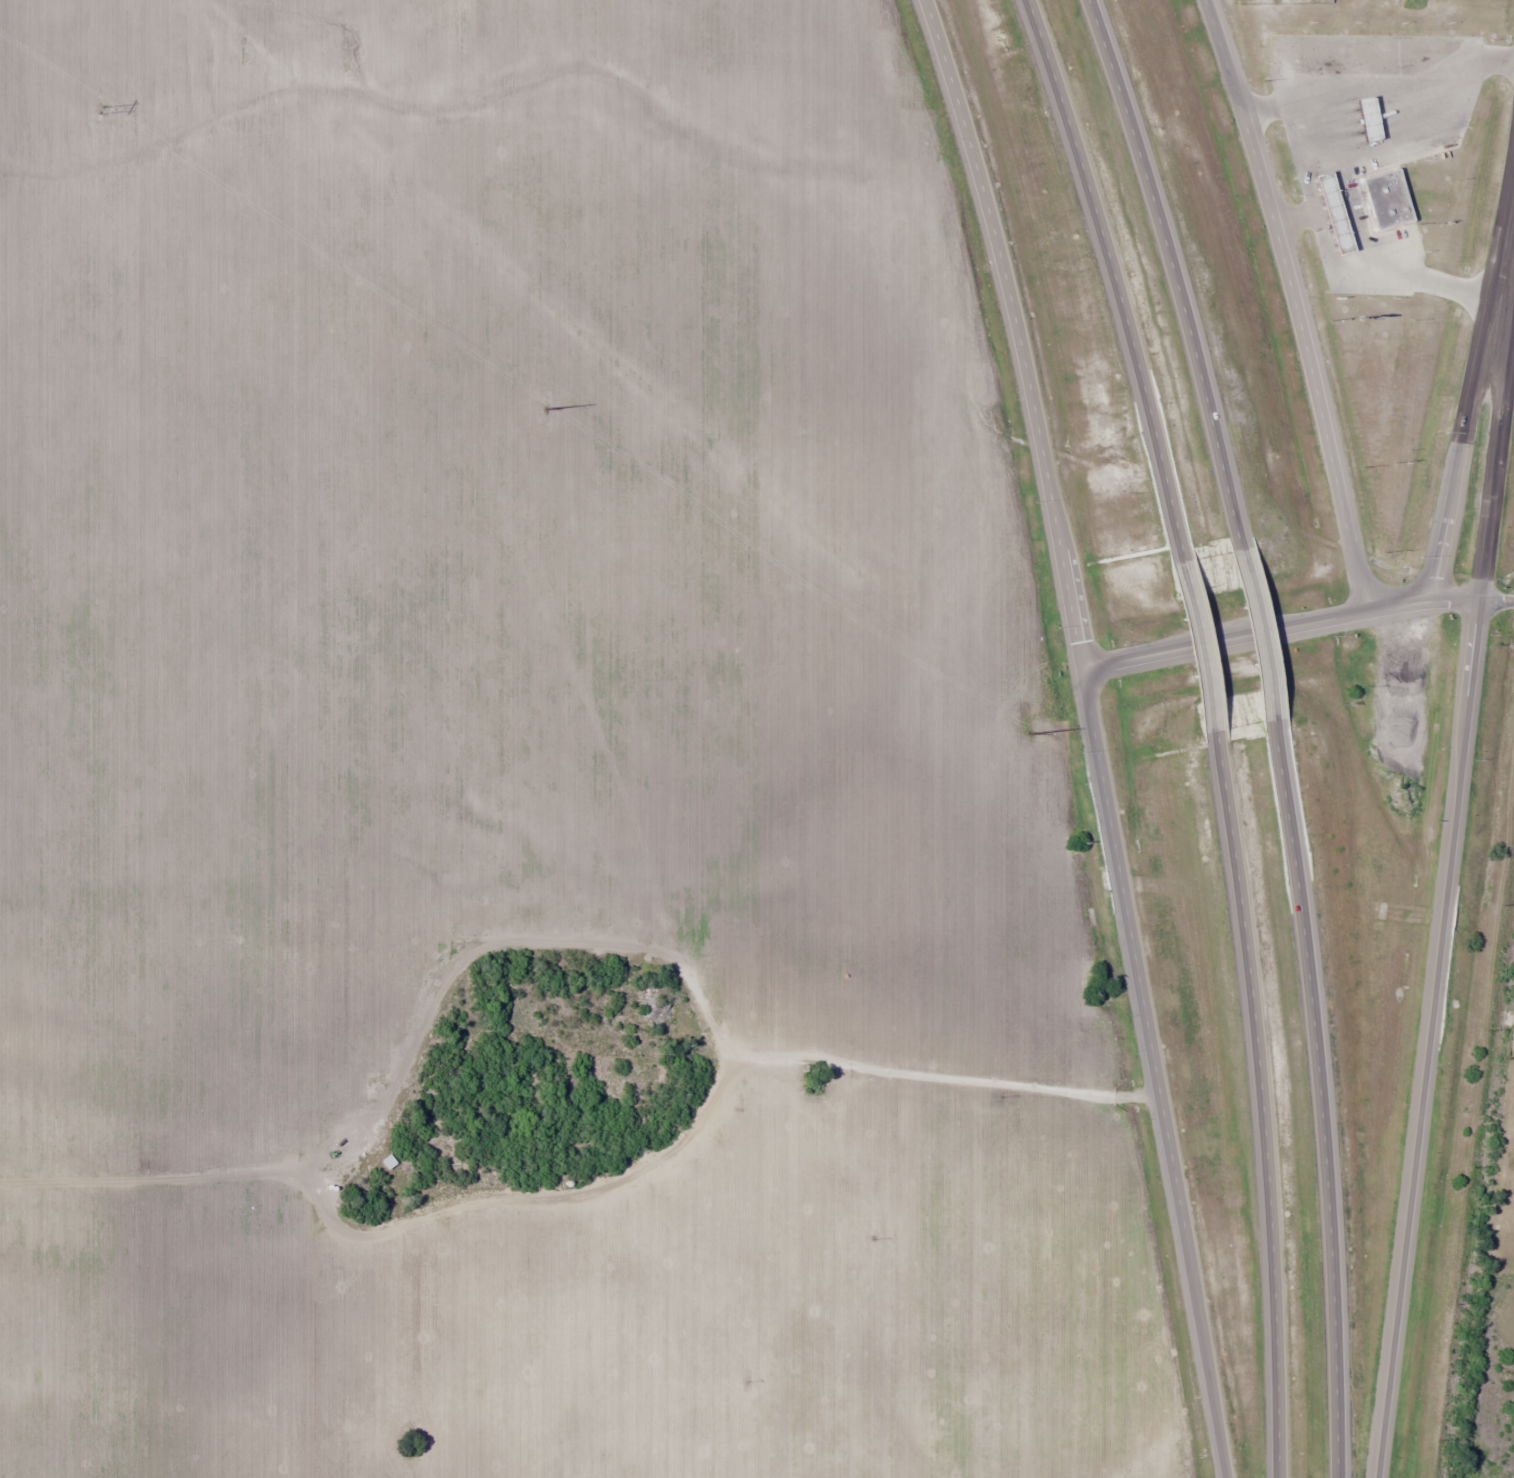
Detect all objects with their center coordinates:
power tower: (102, 109)
building: (1364, 118)
building: (1383, 199)
building: (1330, 212)
road: (1173, 273)
road: (1113, 277)
road: (1295, 302)
road: (1016, 330)
road: (1511, 336)
road: (1472, 371)
power tower: (543, 409)
road: (1494, 443)
road: (1453, 599)
road: (1495, 599)
road: (1255, 632)
road: (1256, 636)
road: (1199, 645)
power tower: (1028, 733)
road: (1428, 1039)
power tower: (1509, 1058)
road: (1154, 1072)
road: (1319, 1098)
road: (1261, 1102)
railway: (1472, 1129)

